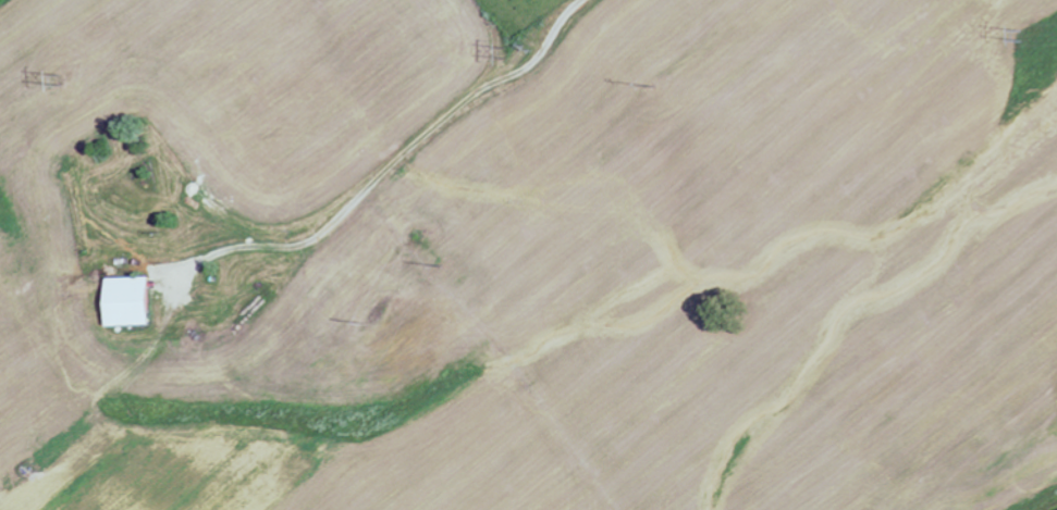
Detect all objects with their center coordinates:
power tower: (1021, 46)
power tower: (506, 52)
power tower: (59, 80)
road: (388, 167)
building: (128, 300)

